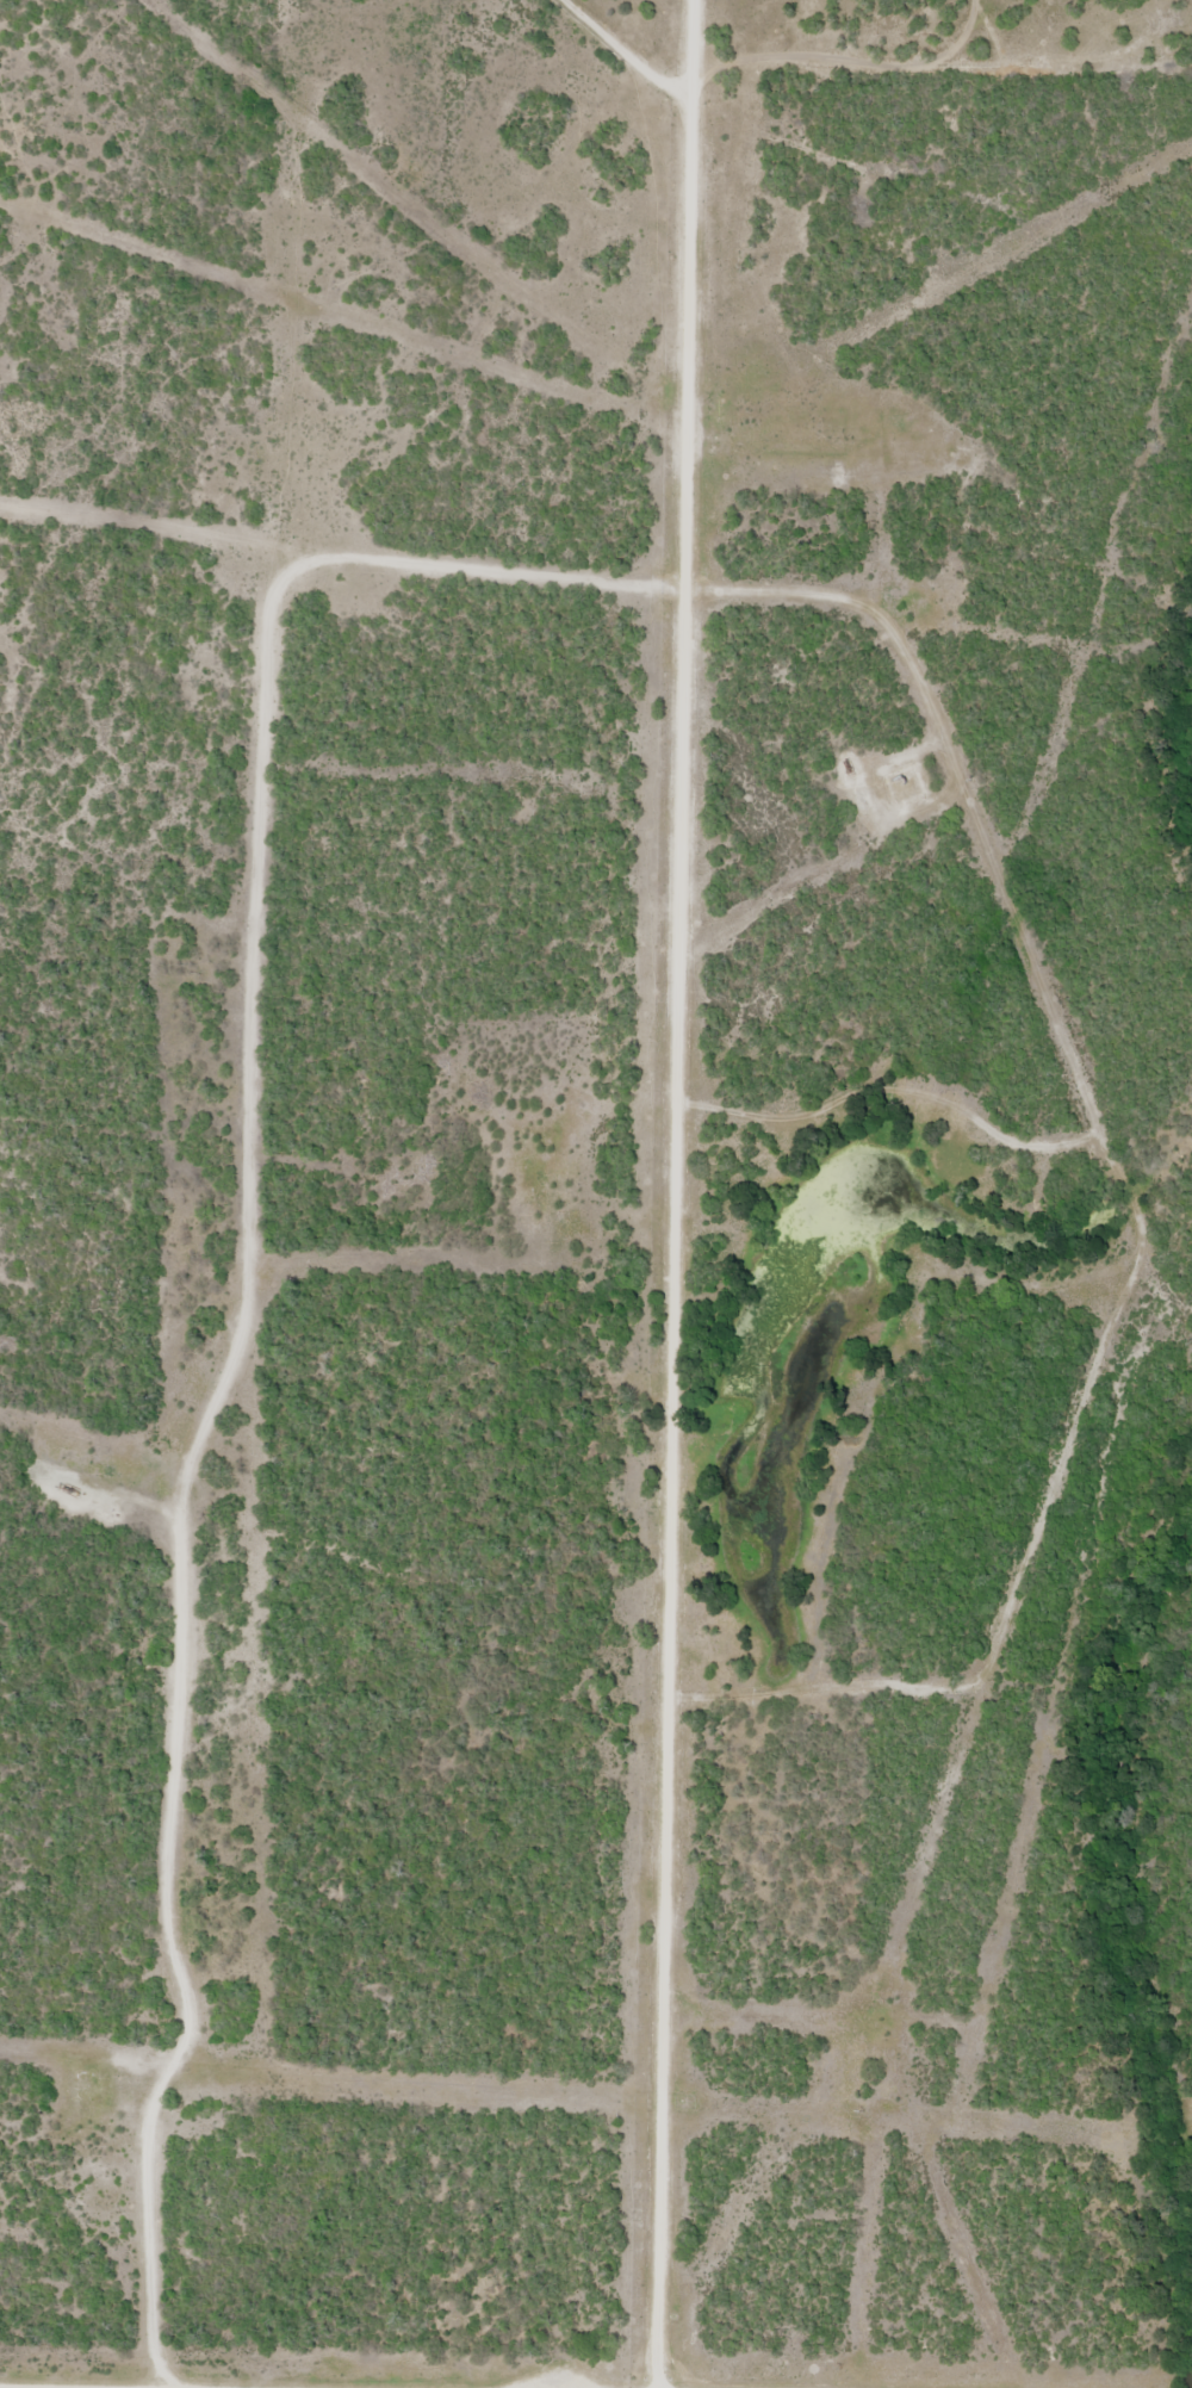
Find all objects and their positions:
road: (622, 57)
road: (961, 872)
road: (673, 1251)
road: (89, 2386)

